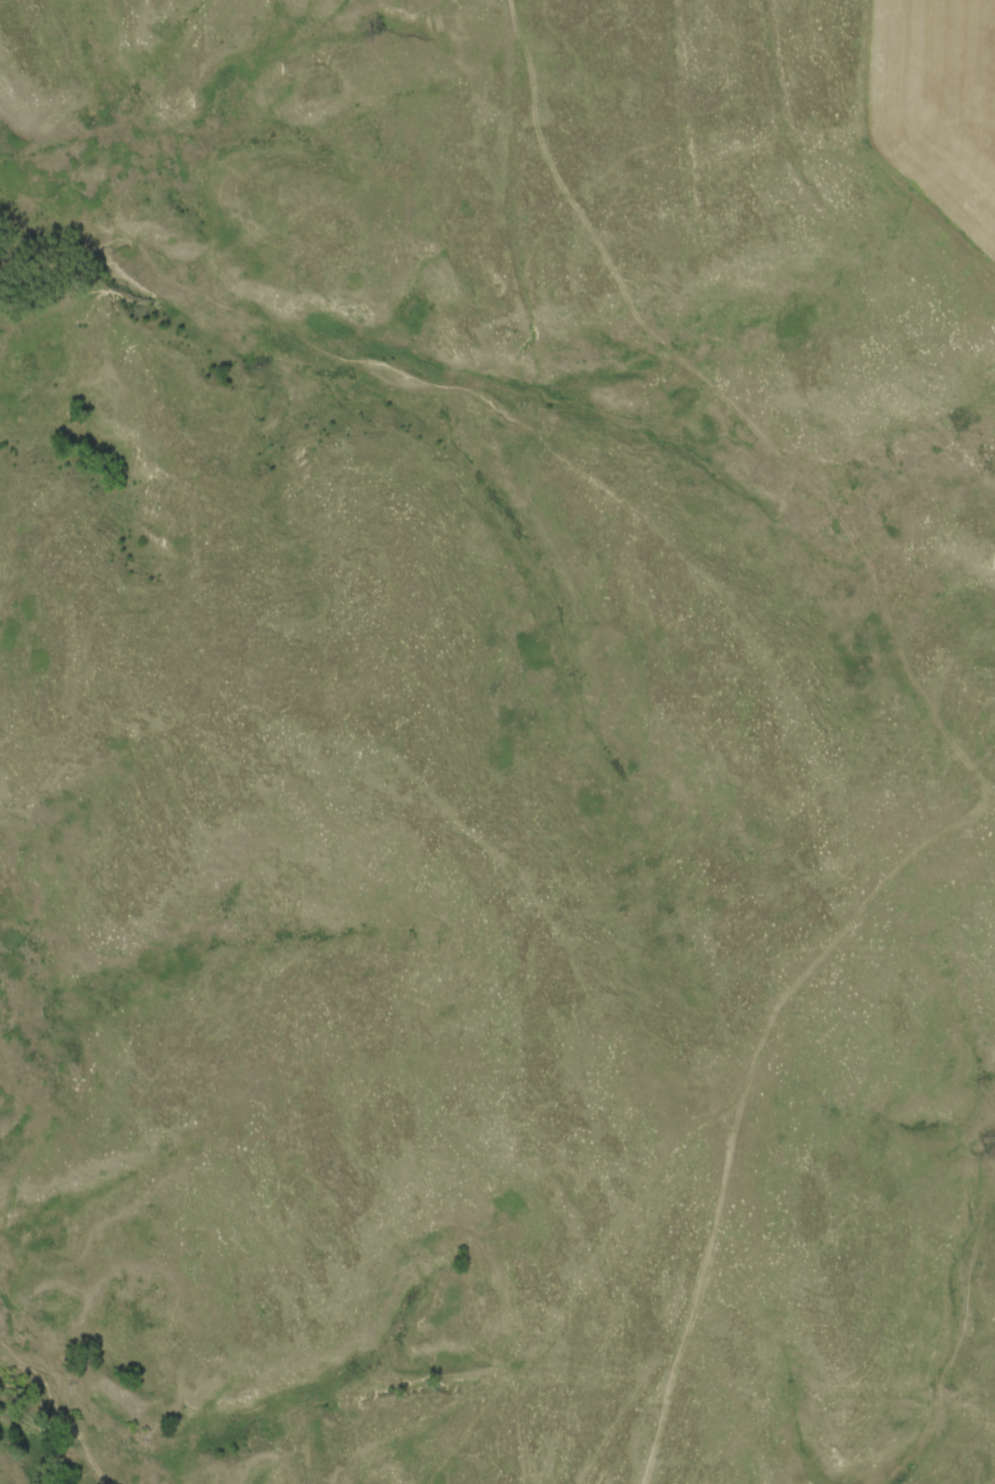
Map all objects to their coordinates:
crop: (939, 101)

